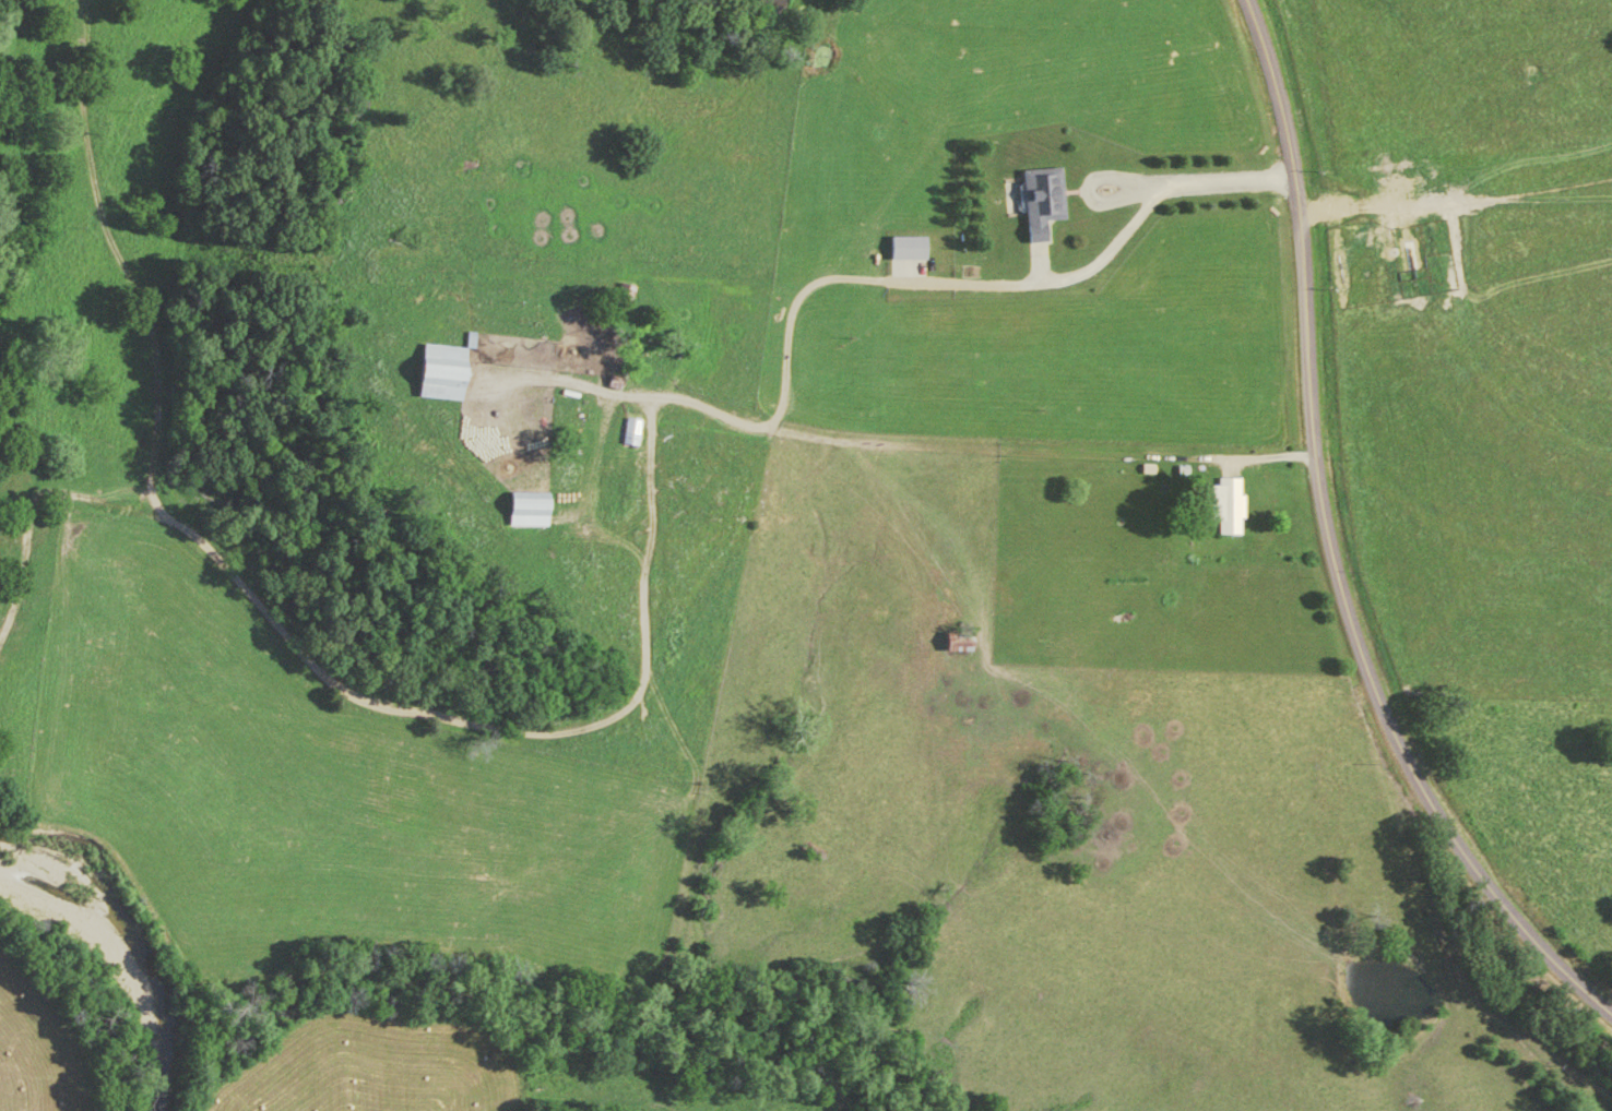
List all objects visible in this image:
building: (1038, 204)
building: (904, 250)
road: (117, 256)
building: (620, 298)
building: (431, 374)
building: (627, 434)
building: (1225, 507)
building: (521, 512)
road: (659, 523)
road: (1331, 545)
building: (953, 647)

